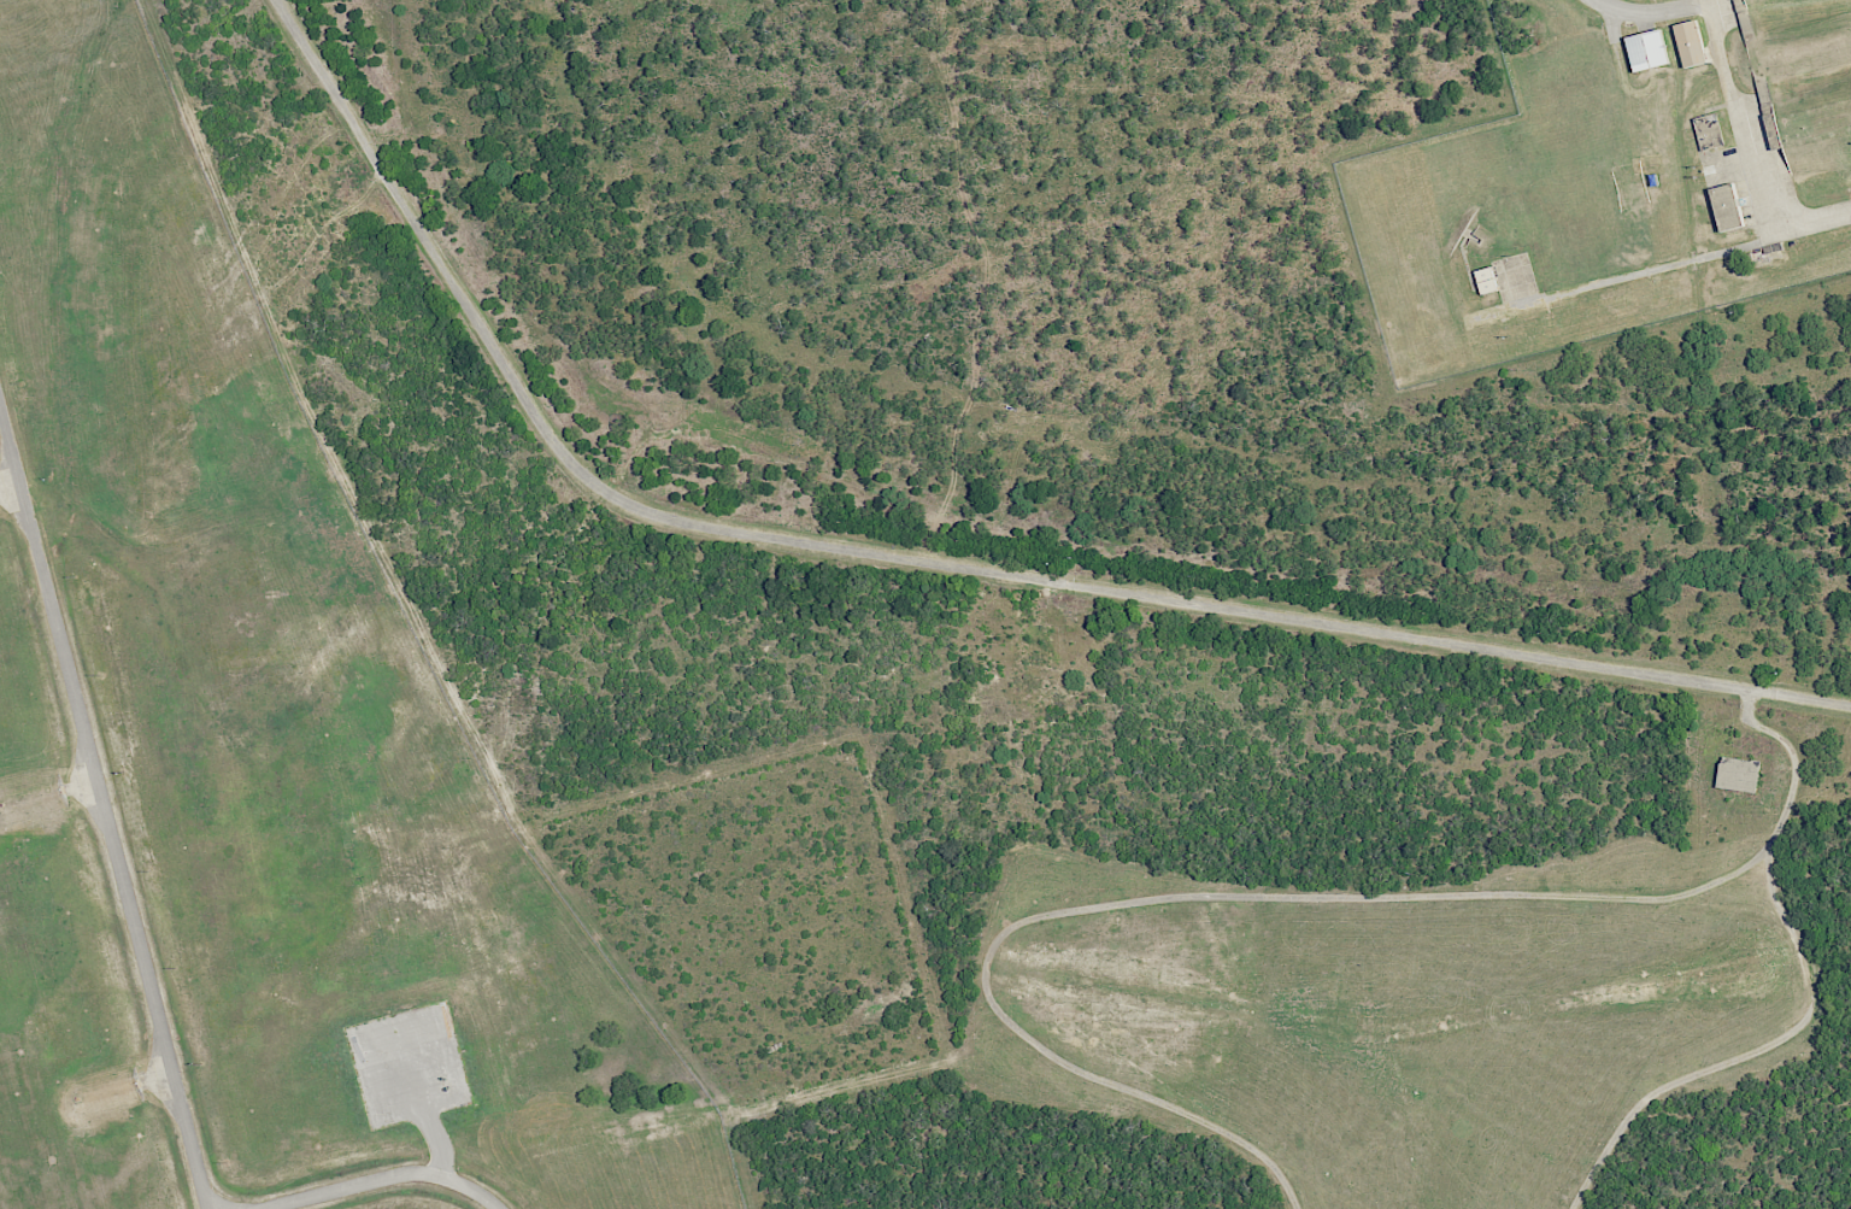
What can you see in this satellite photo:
building: (1690, 43)
building: (1647, 49)
road: (1734, 104)
building: (1708, 131)
building: (1727, 206)
road: (1656, 269)
building: (1486, 280)
road: (932, 562)
road: (1793, 762)
road: (104, 805)
road: (1408, 894)
road: (387, 1178)

